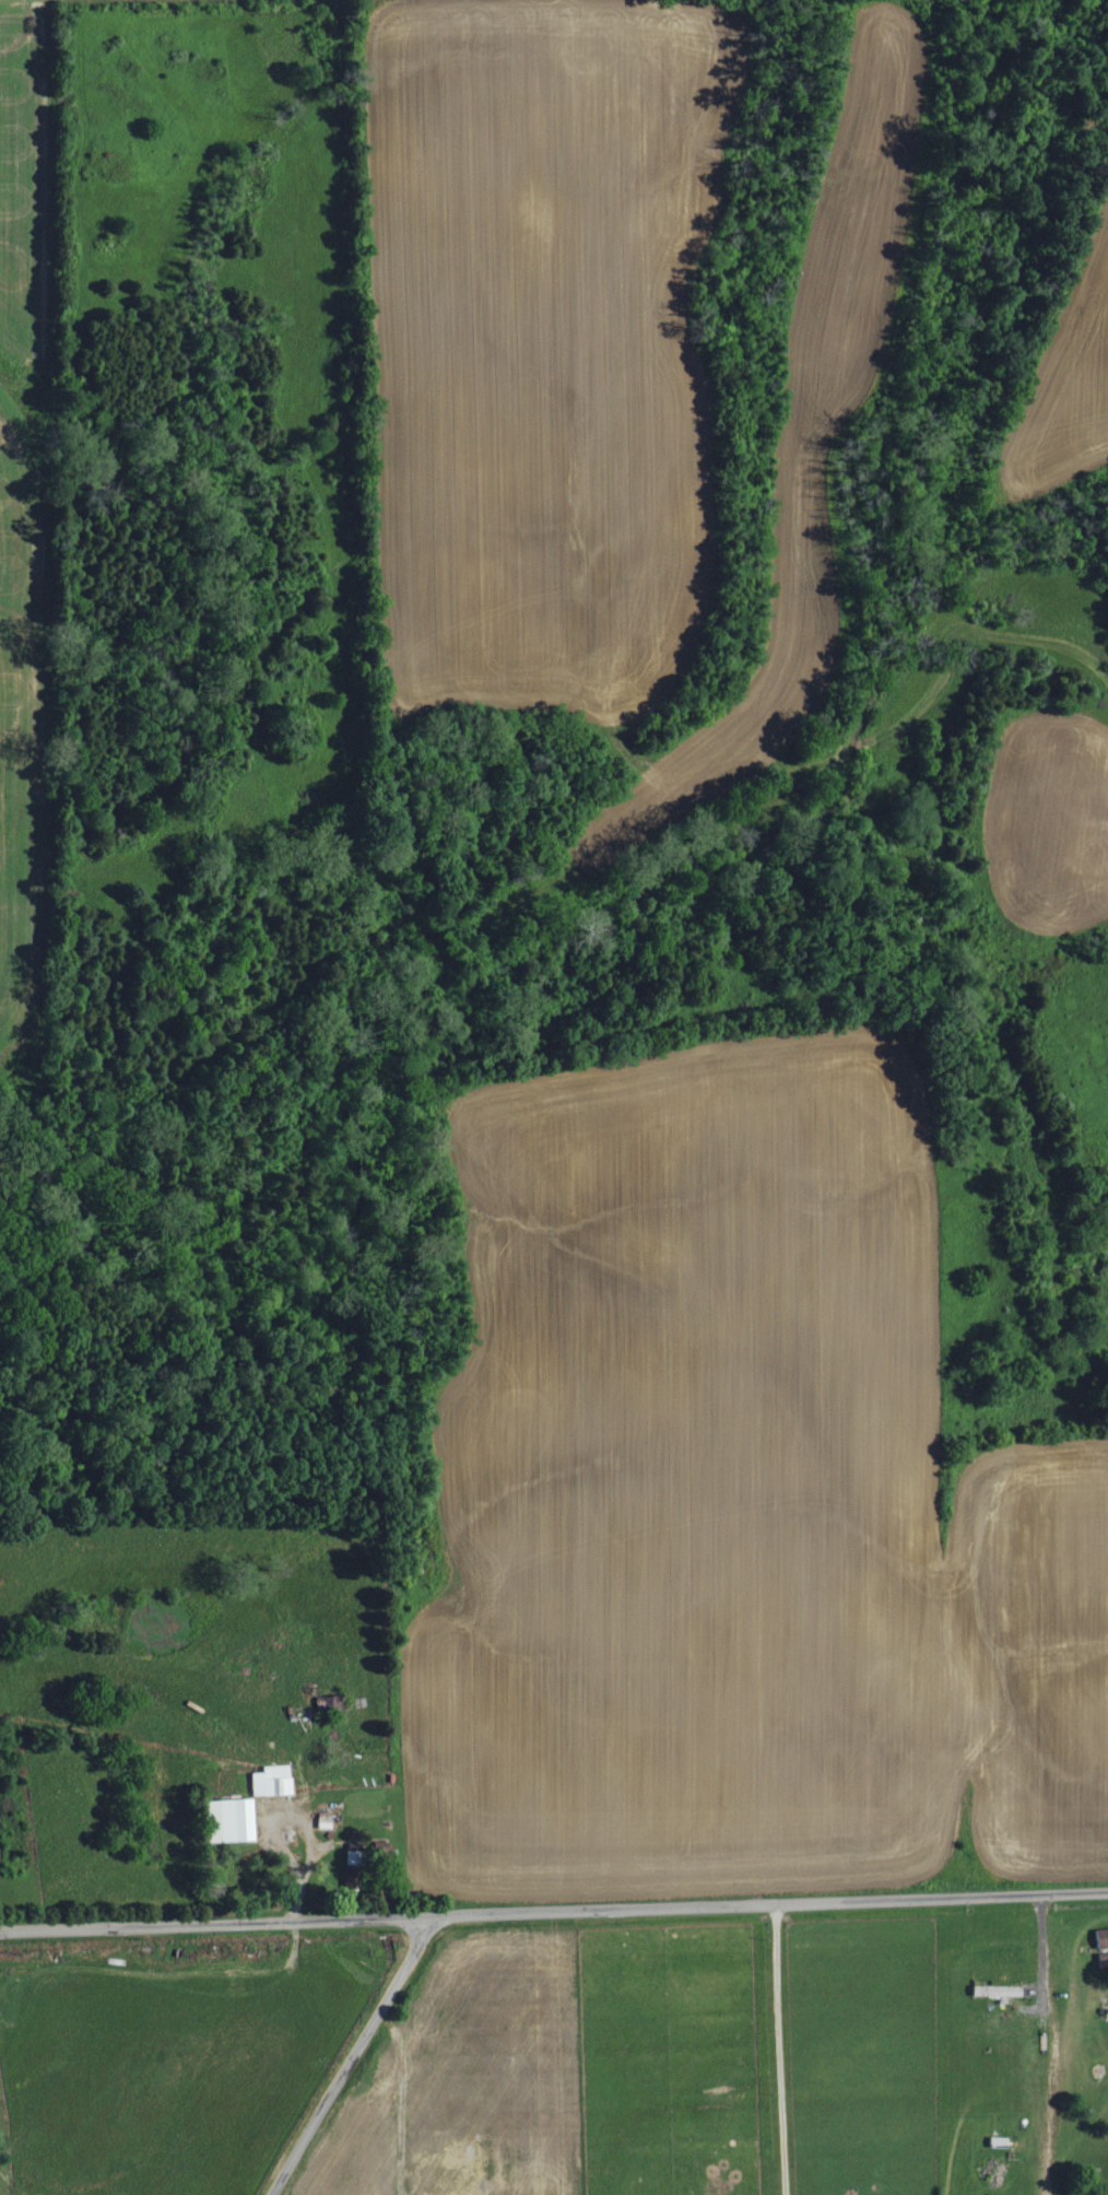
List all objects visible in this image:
building: (330, 1704)
building: (274, 1782)
building: (236, 1821)
building: (326, 1821)
building: (357, 1868)
road: (554, 1914)
building: (1000, 1992)
road: (776, 2051)
road: (349, 2057)
road: (402, 2099)

